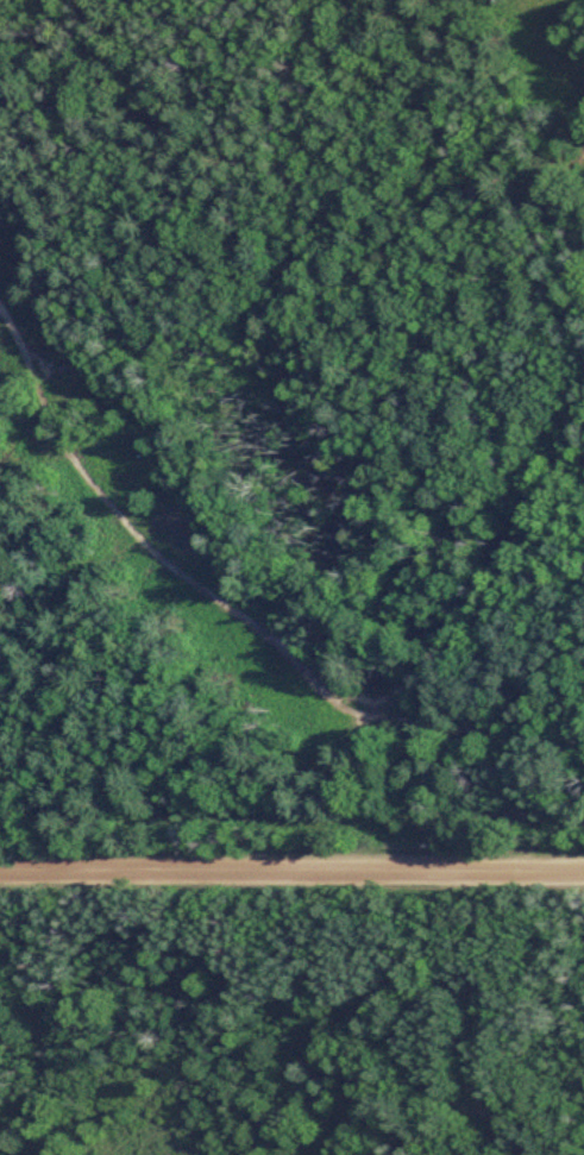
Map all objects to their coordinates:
road: (291, 874)
building: (362, 1071)

